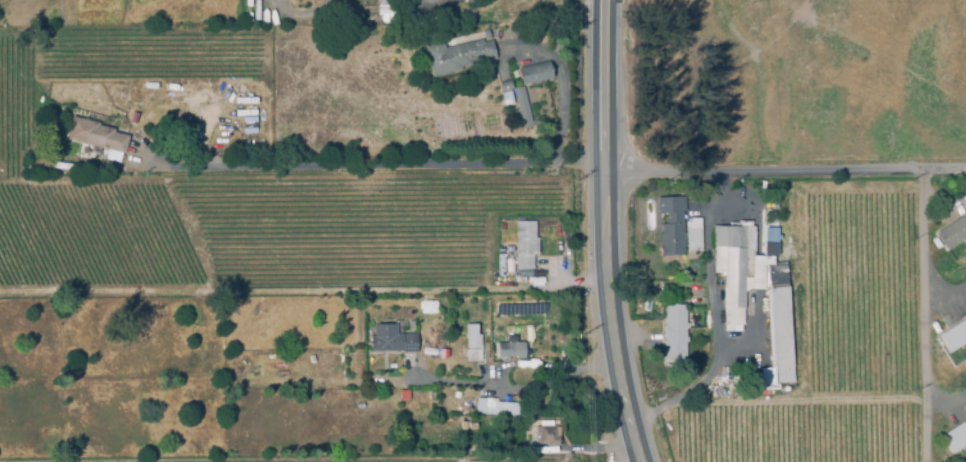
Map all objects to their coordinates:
building: (468, 2)
building: (383, 8)
road: (286, 14)
building: (457, 57)
building: (535, 74)
building: (505, 86)
building: (507, 97)
building: (523, 108)
building: (49, 122)
building: (96, 136)
road: (377, 165)
road: (783, 170)
building: (676, 229)
road: (602, 233)
building: (953, 233)
building: (526, 245)
building: (501, 266)
building: (735, 267)
building: (429, 311)
road: (924, 316)
building: (779, 322)
building: (675, 333)
building: (498, 334)
building: (955, 336)
building: (392, 340)
building: (473, 344)
building: (511, 349)
road: (509, 363)
road: (528, 393)
building: (404, 395)
building: (495, 407)
building: (545, 436)
building: (955, 438)

